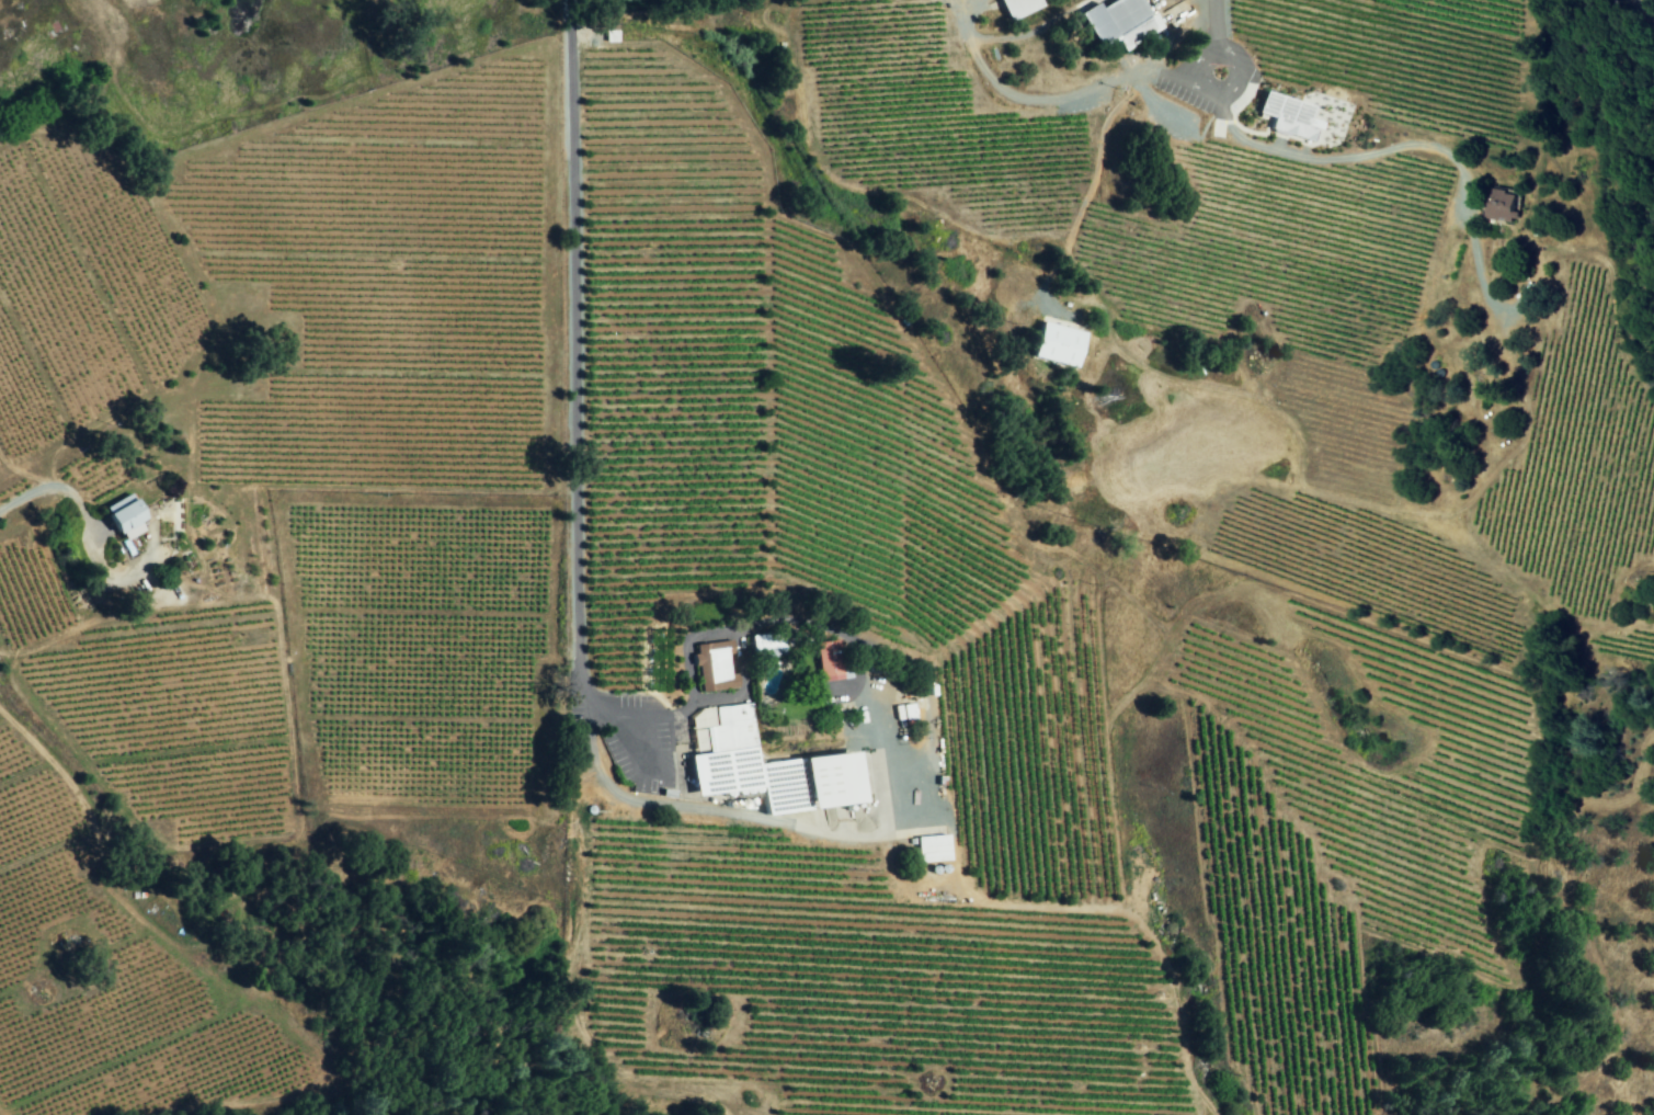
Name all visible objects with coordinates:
road: (1635, 1)
building: (1018, 8)
road: (1645, 13)
building: (1119, 22)
road: (1211, 23)
road: (1219, 94)
road: (1022, 98)
building: (1287, 115)
road: (1447, 155)
road: (1094, 167)
building: (1506, 205)
building: (1057, 344)
road: (575, 397)
road: (60, 489)
building: (124, 517)
building: (768, 646)
building: (828, 661)
building: (714, 667)
road: (741, 667)
building: (700, 728)
building: (769, 770)
road: (696, 808)
building: (932, 849)

